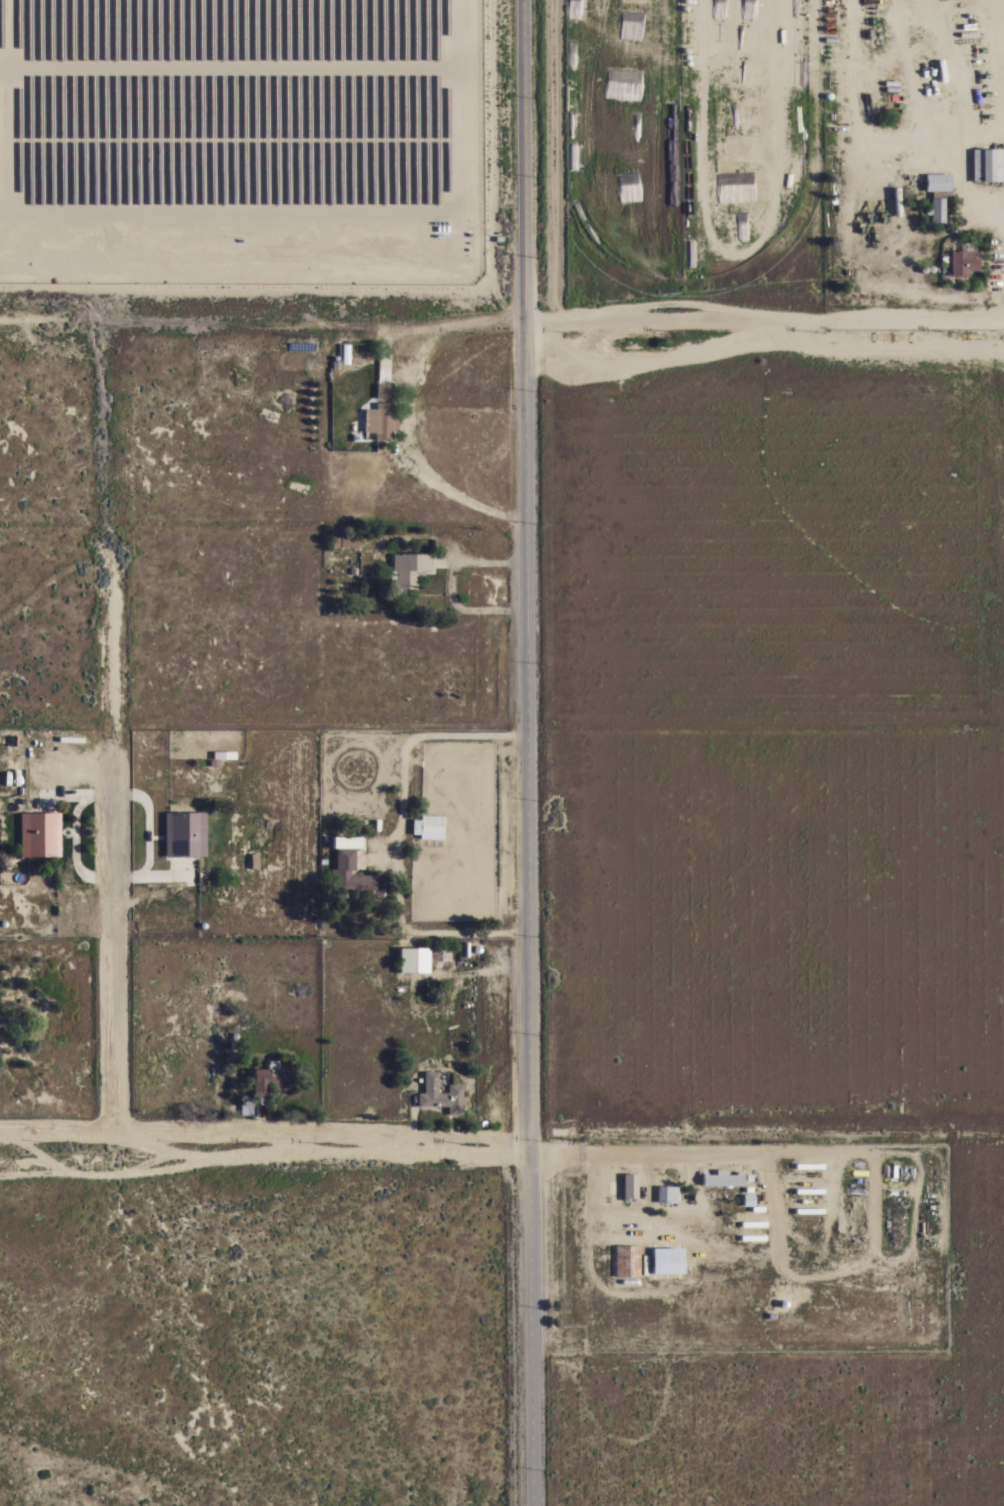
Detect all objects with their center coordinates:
solar farm: (240, 141)
road: (956, 158)
building: (986, 164)
building: (936, 181)
building: (936, 209)
building: (962, 262)
road: (764, 320)
building: (301, 346)
building: (344, 354)
building: (335, 364)
building: (384, 391)
road: (413, 414)
building: (380, 420)
building: (343, 541)
building: (407, 569)
road: (451, 587)
building: (13, 739)
building: (34, 743)
road: (528, 752)
building: (223, 754)
building: (427, 826)
building: (39, 834)
building: (184, 834)
road: (397, 836)
building: (352, 872)
road: (110, 941)
building: (438, 953)
building: (410, 960)
building: (272, 1076)
building: (439, 1094)
building: (246, 1105)
road: (502, 1142)
building: (721, 1178)
building: (628, 1185)
building: (666, 1194)
building: (747, 1199)
building: (625, 1259)
building: (665, 1260)

